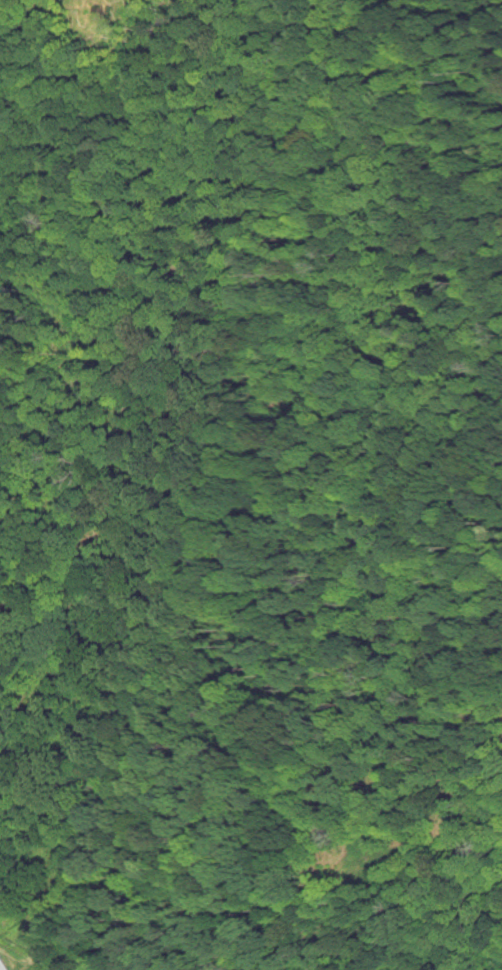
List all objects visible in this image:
building: (3, 963)

